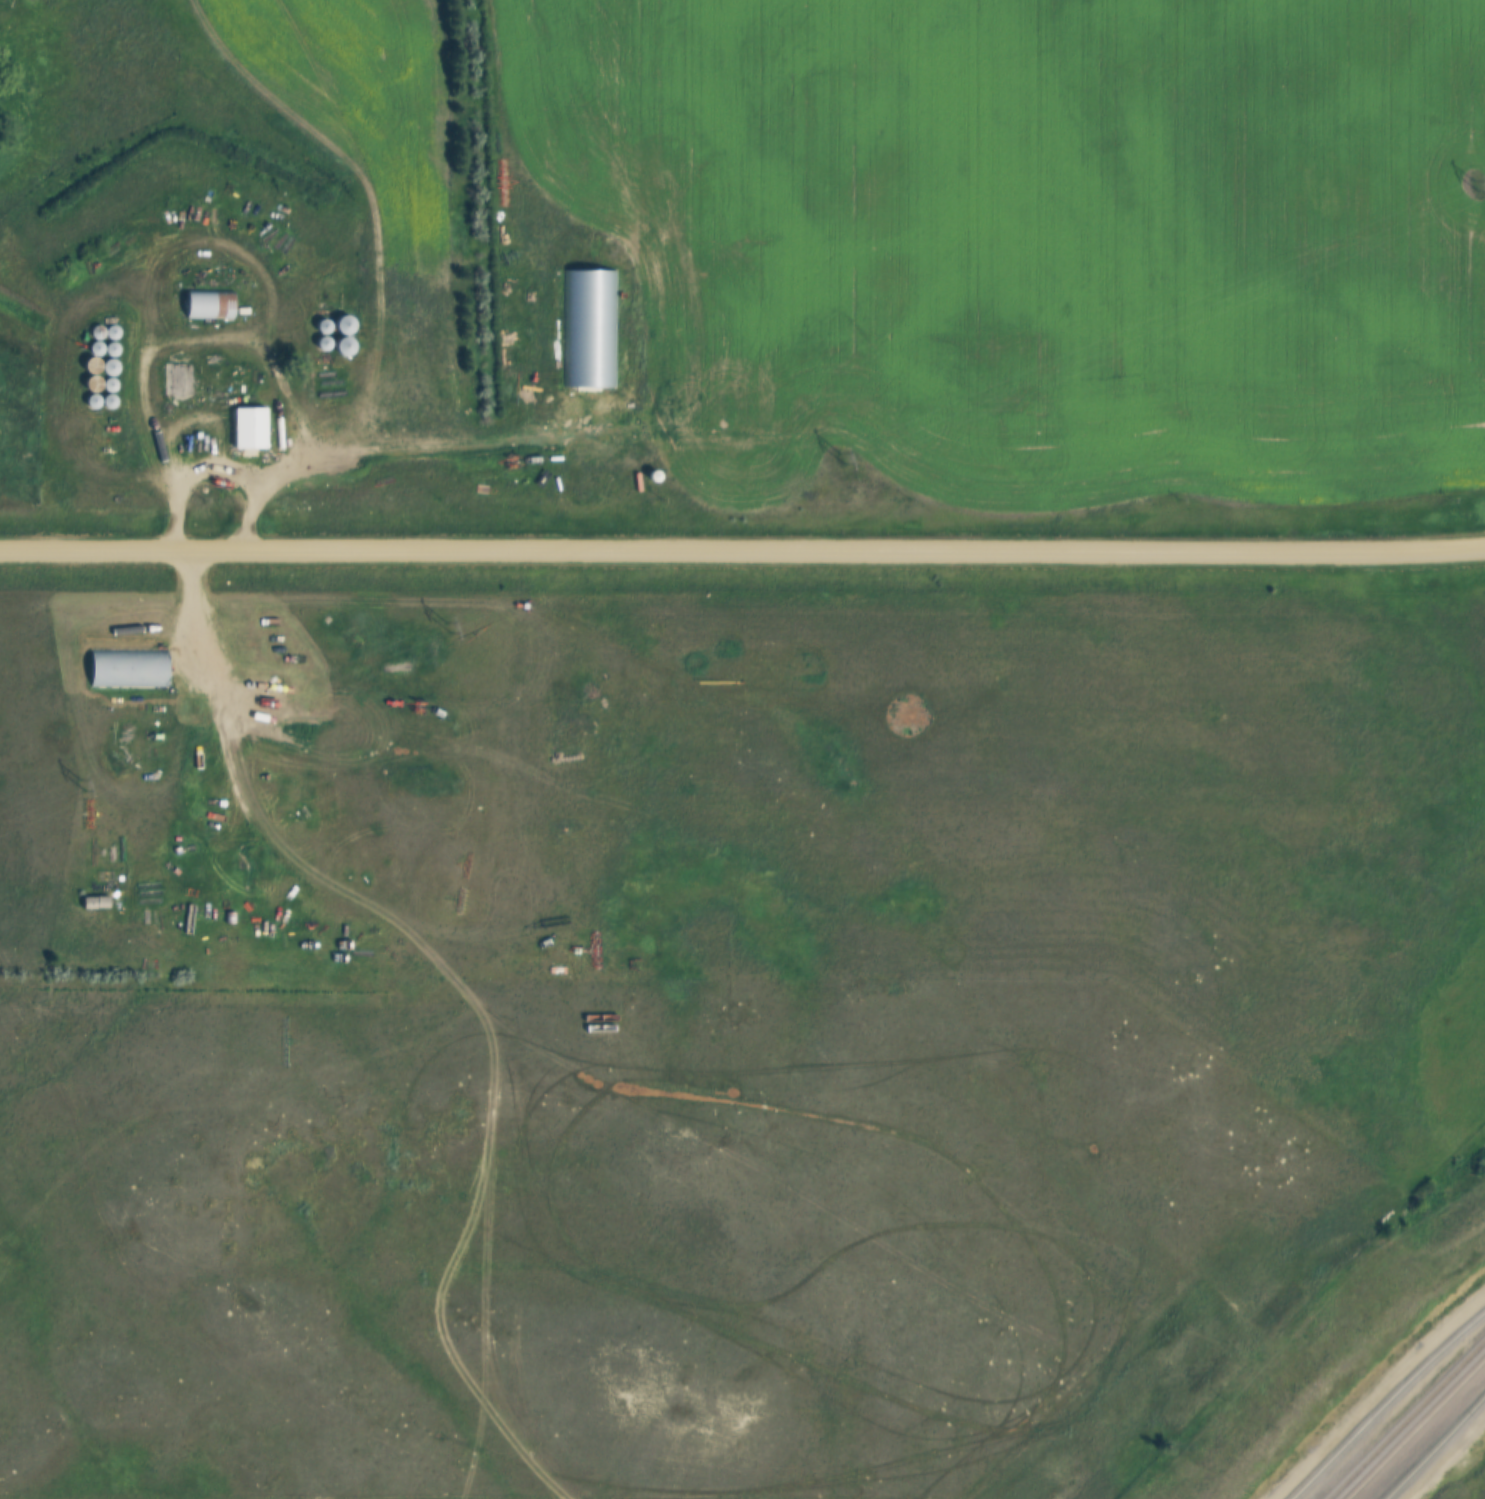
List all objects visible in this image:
power tower: (1474, 184)
building: (206, 305)
building: (342, 337)
road: (217, 344)
building: (174, 379)
building: (247, 428)
power tower: (840, 457)
road: (742, 553)
power tower: (446, 626)
building: (126, 671)
power tower: (81, 784)
railway: (1469, 1373)
railway: (1386, 1403)
railway: (1406, 1418)
railway: (1424, 1439)
railway: (1394, 1444)
railway: (1399, 1444)
railway: (1434, 1445)
railway: (1442, 1451)

